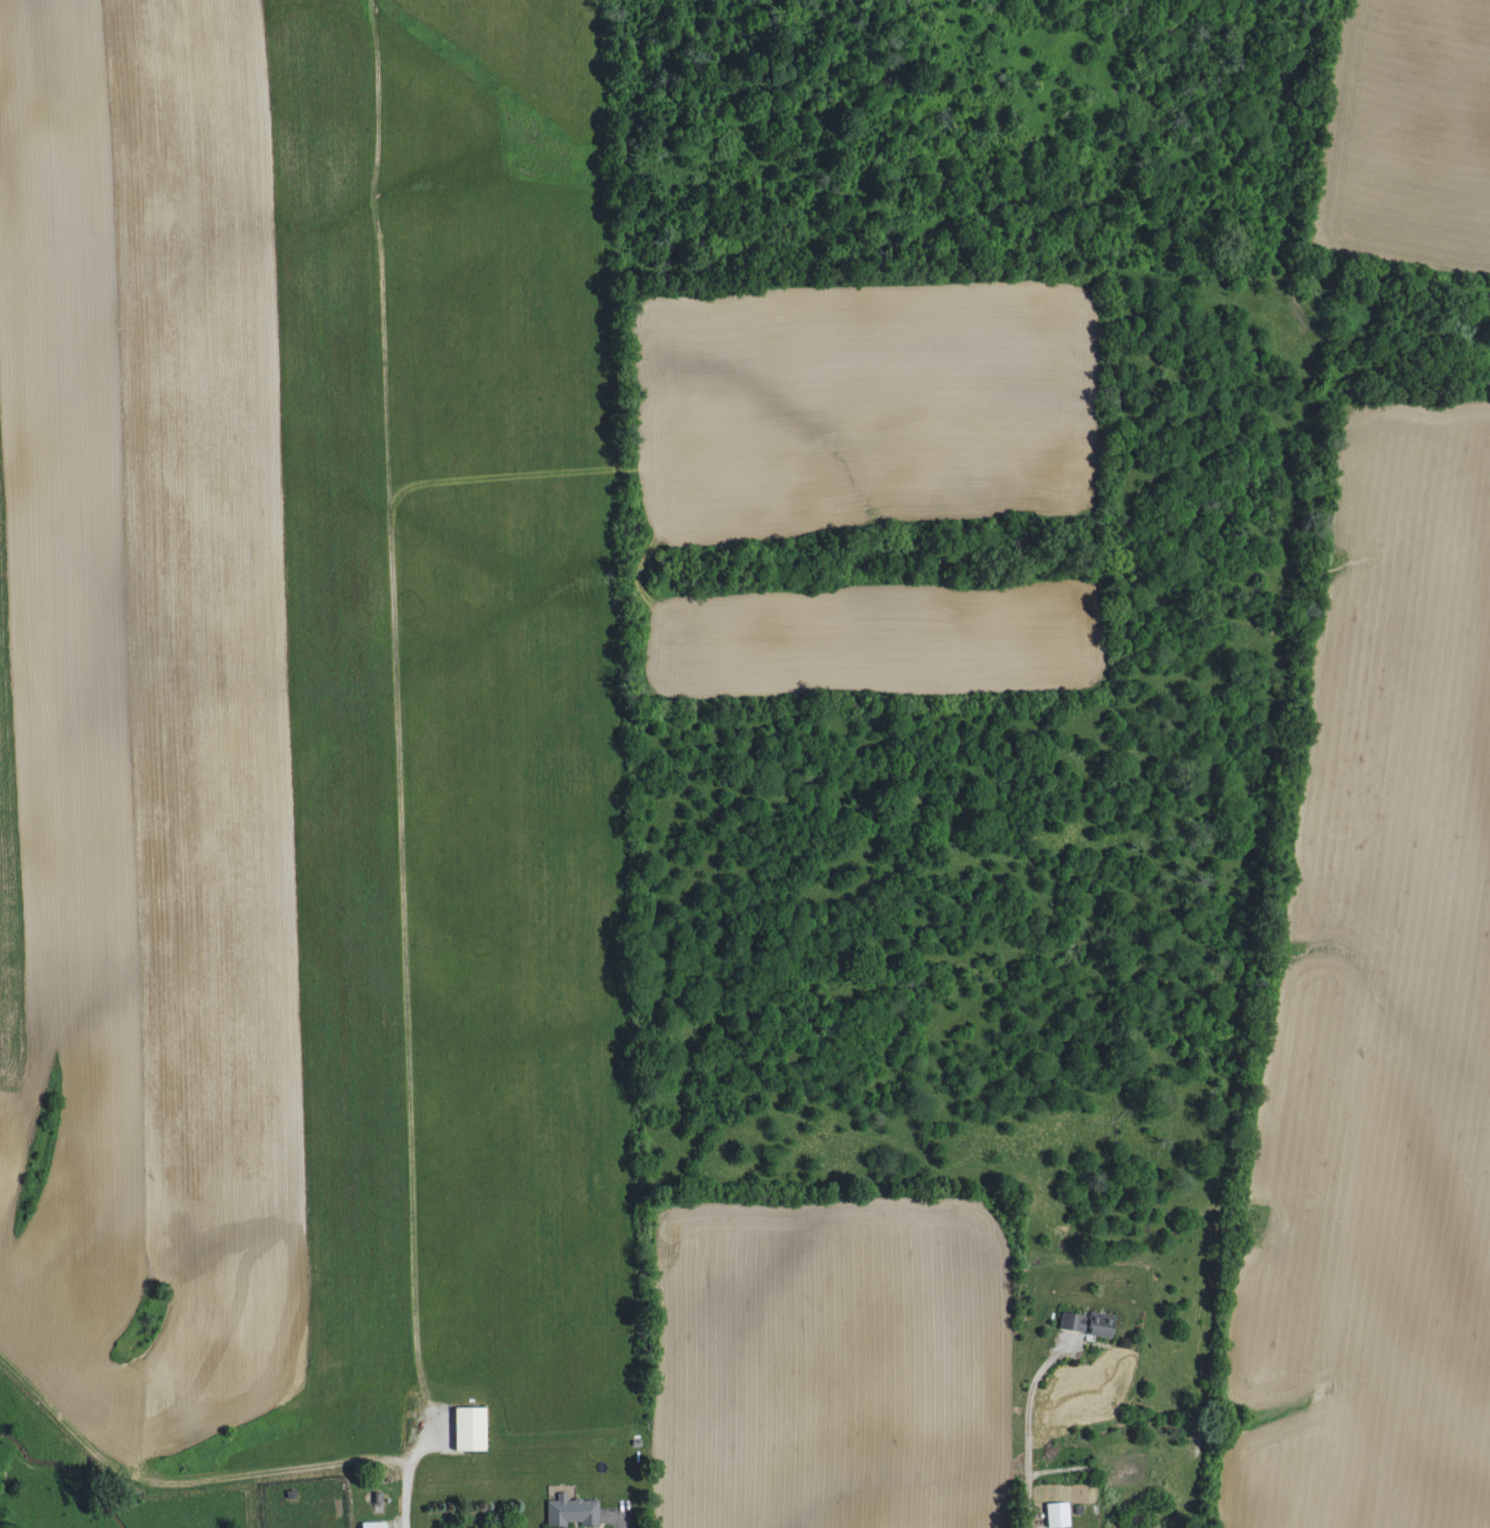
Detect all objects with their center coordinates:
building: (1088, 1324)
building: (473, 1428)
road: (1026, 1430)
road: (405, 1474)
building: (574, 1511)
building: (1060, 1514)
road: (621, 1523)
building: (376, 1524)

